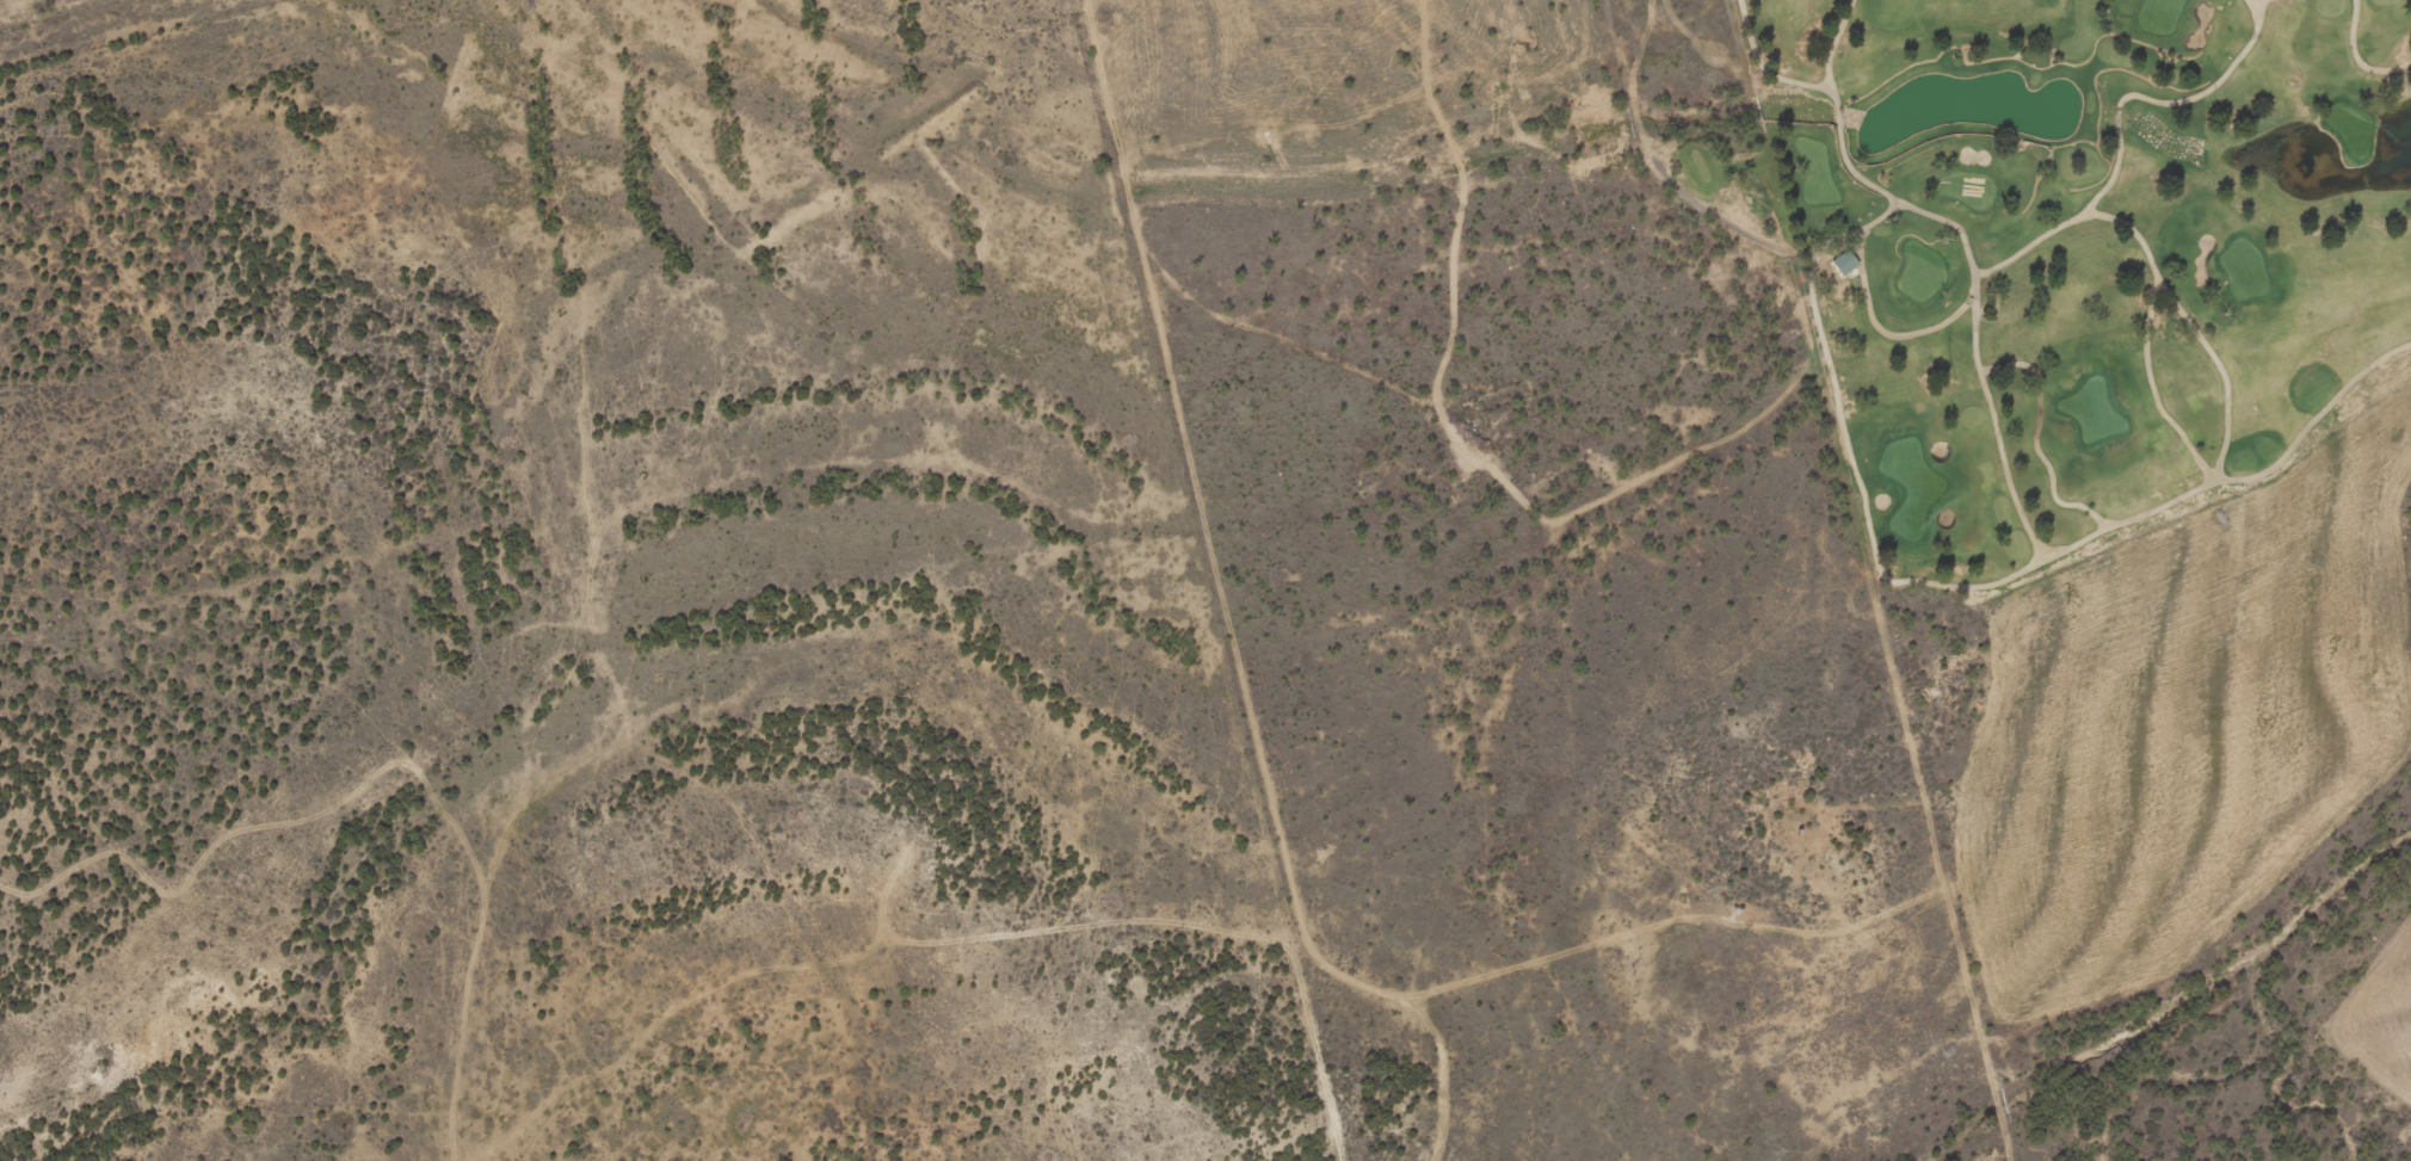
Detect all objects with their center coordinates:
building: (1848, 261)

